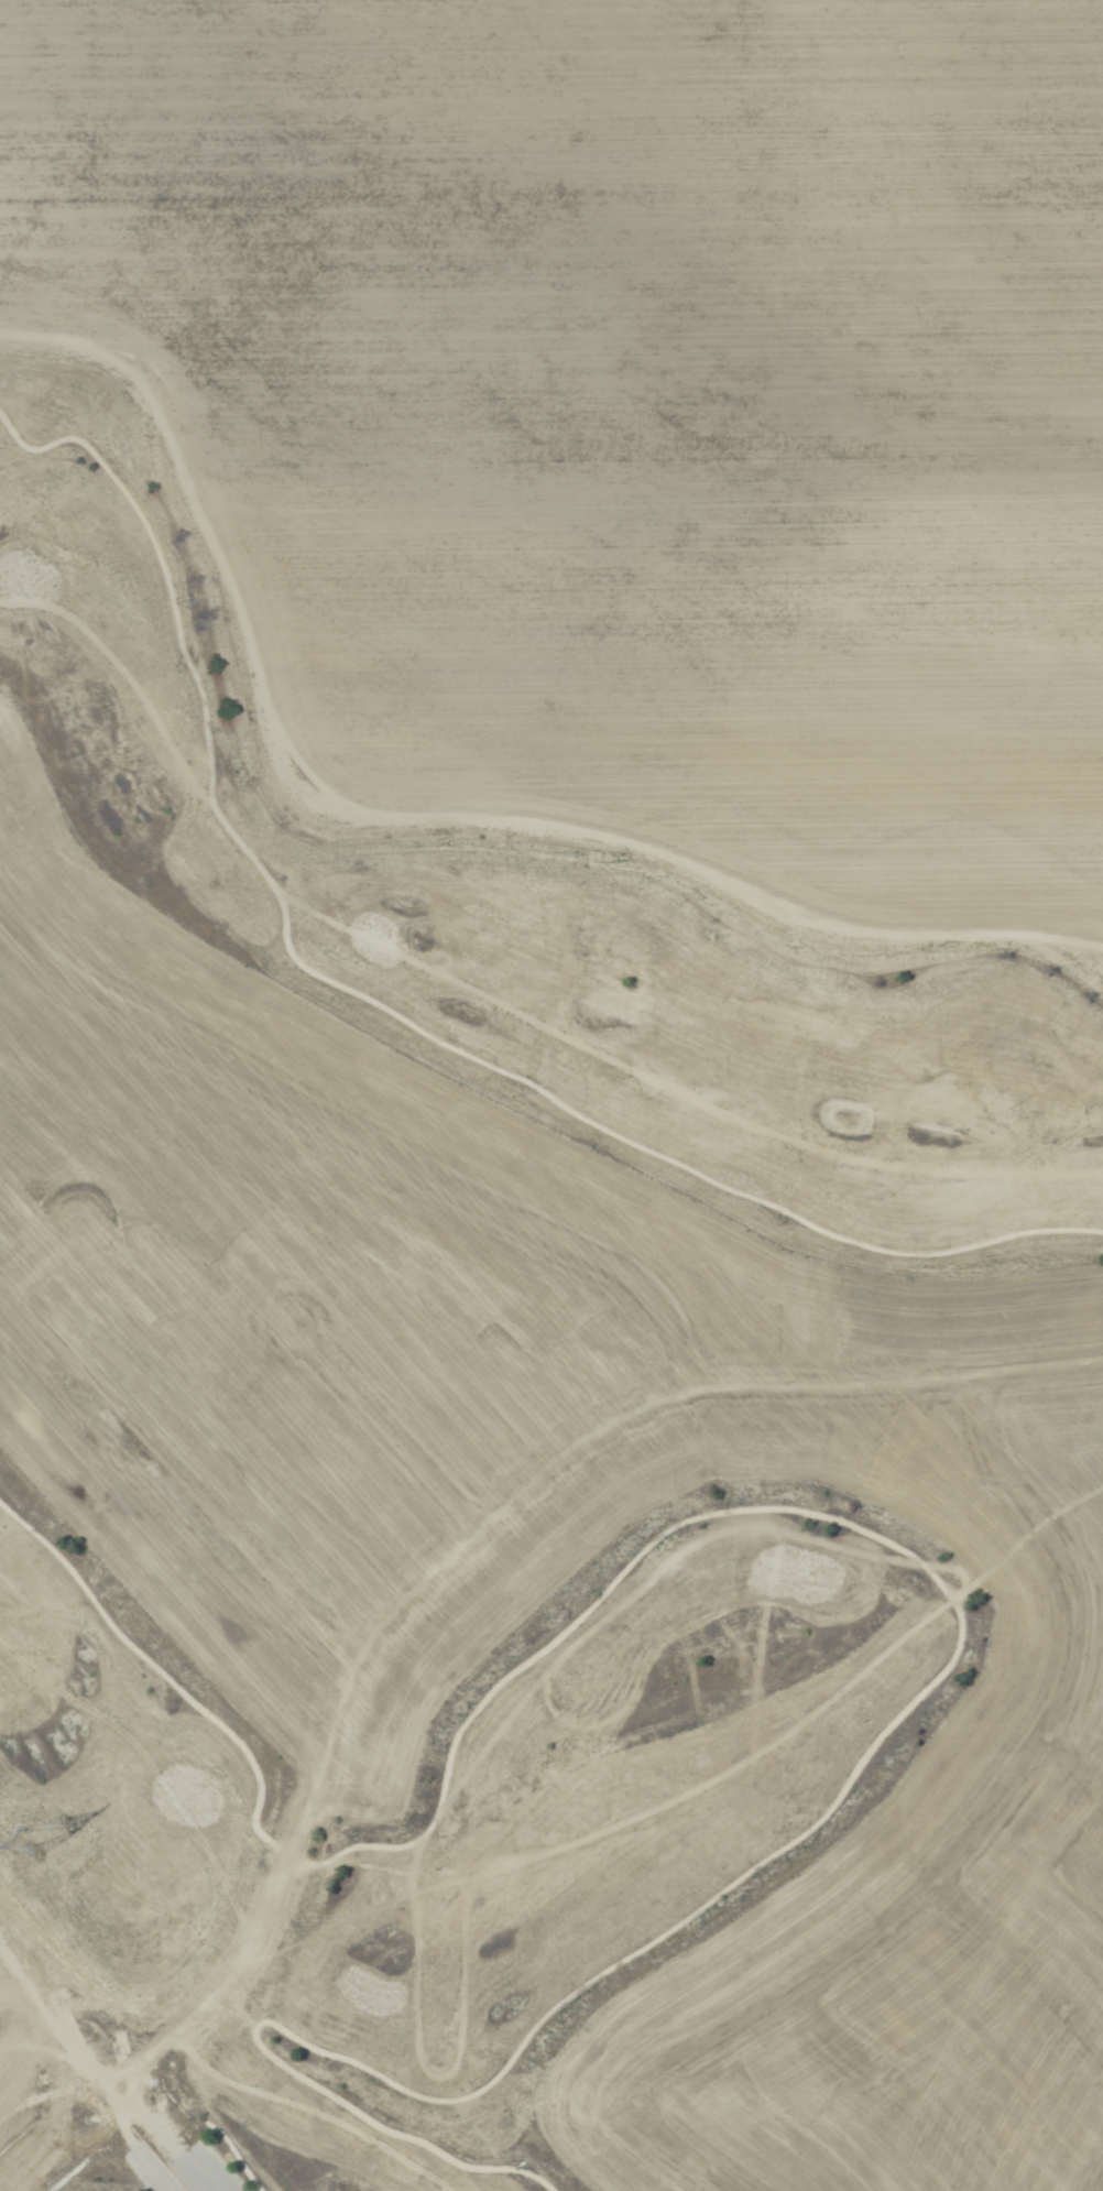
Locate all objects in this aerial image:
power tower: (57, 1838)

